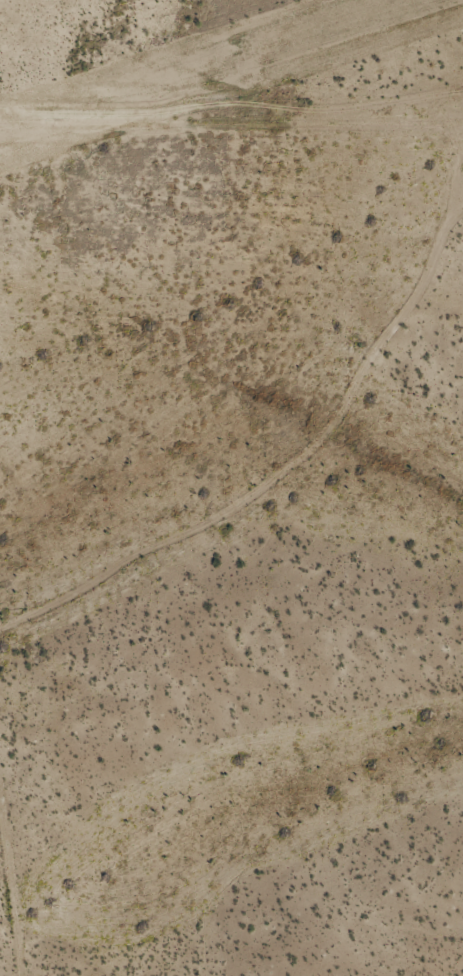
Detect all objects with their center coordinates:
road: (254, 437)

